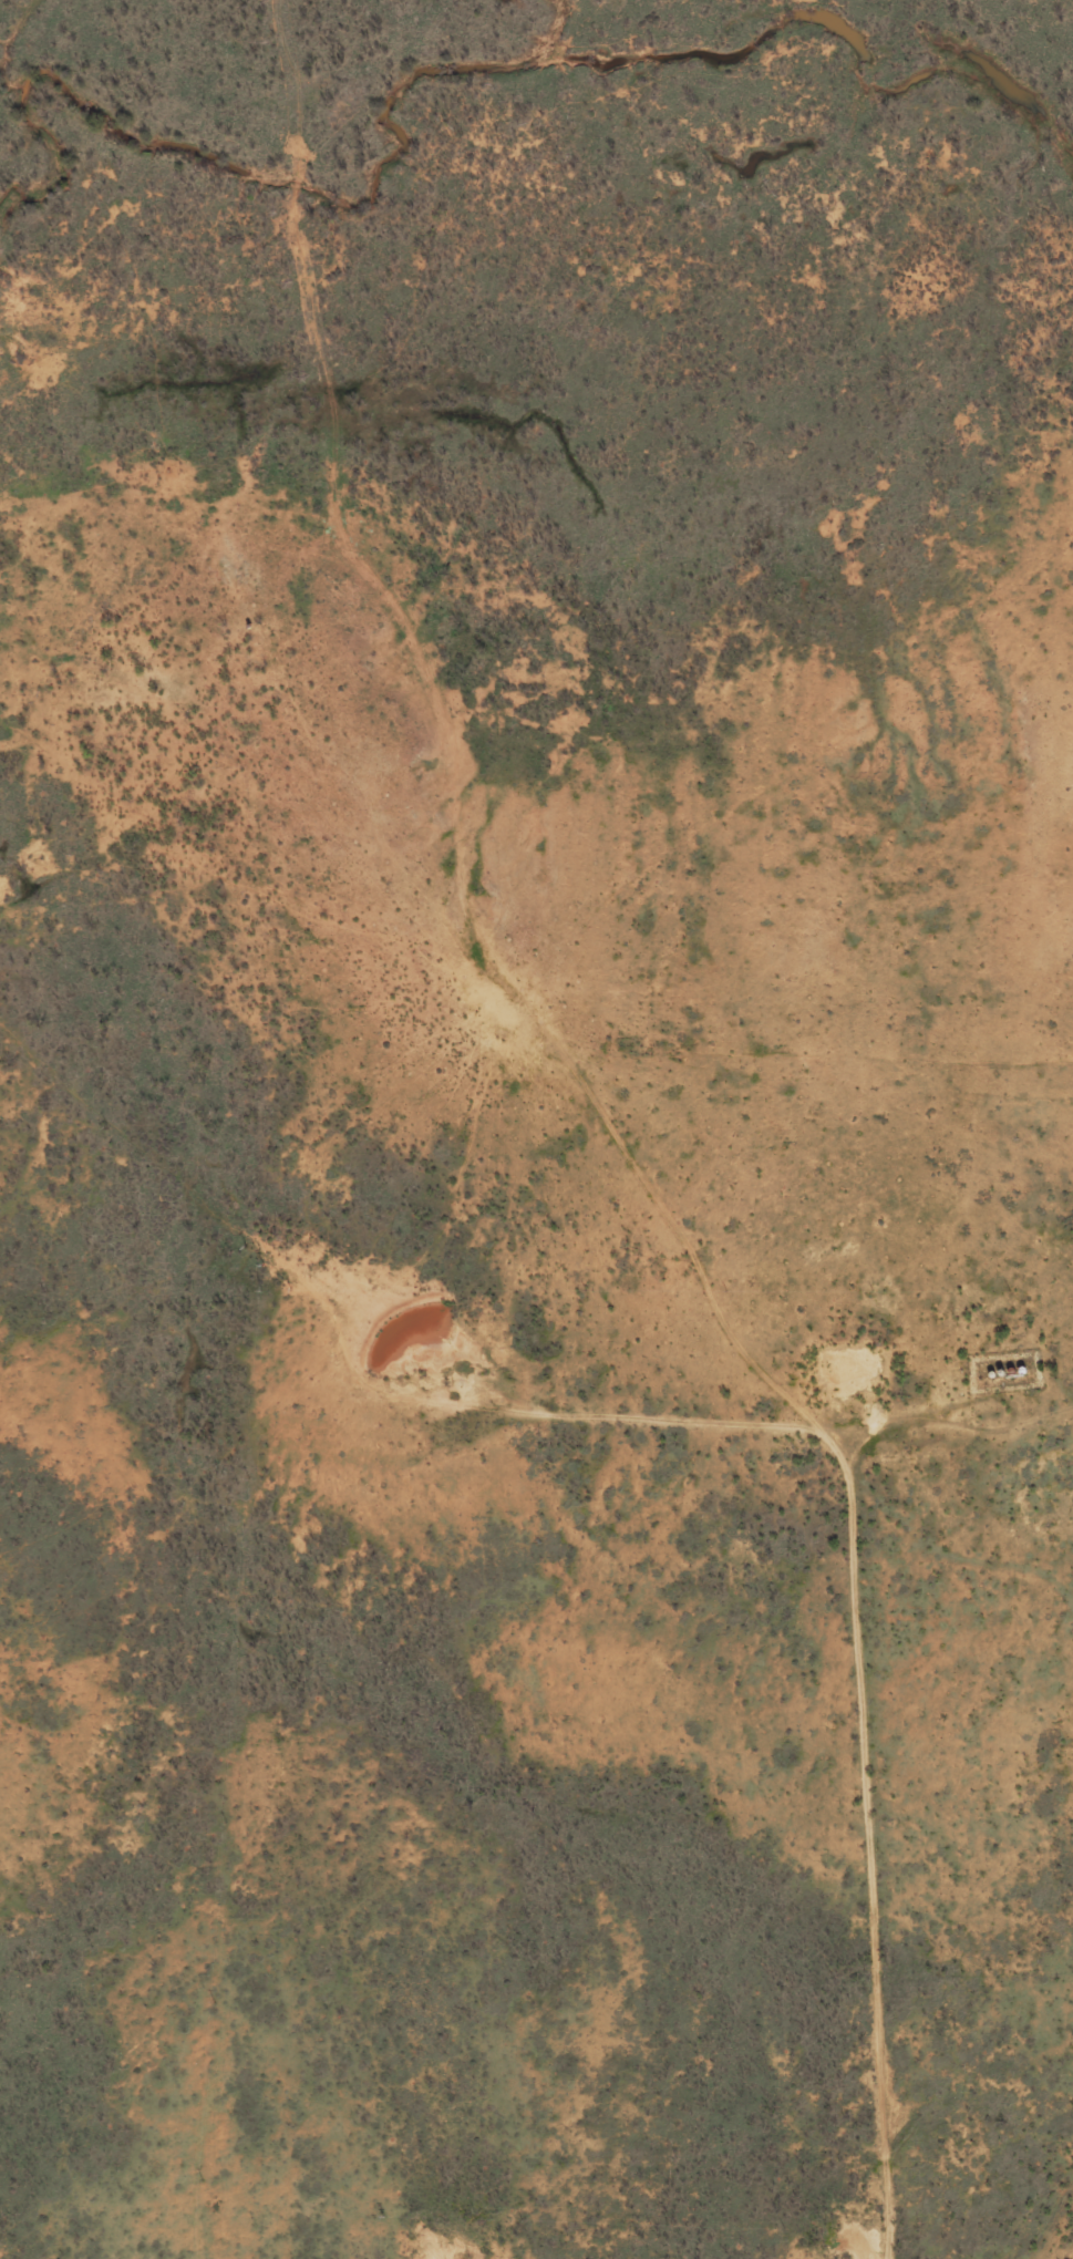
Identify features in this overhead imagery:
road: (761, 1330)
road: (966, 1482)

